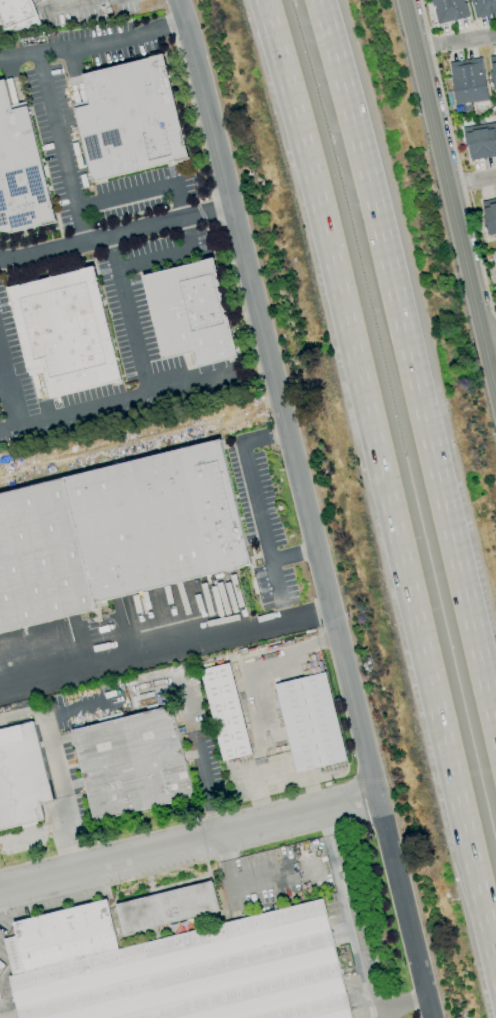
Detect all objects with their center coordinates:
road: (74, 7)
building: (483, 7)
building: (448, 9)
building: (17, 14)
road: (91, 39)
road: (456, 47)
building: (492, 74)
building: (467, 81)
building: (131, 118)
building: (480, 141)
road: (60, 144)
building: (21, 165)
road: (472, 182)
road: (450, 193)
road: (125, 196)
road: (178, 201)
building: (489, 214)
road: (114, 234)
road: (331, 253)
road: (384, 254)
road: (153, 260)
building: (495, 277)
building: (190, 314)
building: (65, 331)
road: (491, 343)
road: (5, 372)
road: (143, 372)
road: (13, 402)
road: (83, 408)
road: (9, 426)
railway: (91, 443)
railway: (100, 465)
road: (305, 508)
road: (257, 509)
building: (116, 534)
road: (292, 555)
road: (470, 618)
road: (163, 647)
building: (226, 712)
road: (24, 713)
building: (310, 723)
road: (252, 724)
road: (443, 737)
road: (53, 747)
road: (195, 749)
building: (131, 763)
building: (21, 778)
road: (282, 784)
road: (58, 827)
road: (186, 842)
road: (233, 866)
building: (167, 908)
road: (347, 912)
building: (177, 969)
road: (399, 1003)

